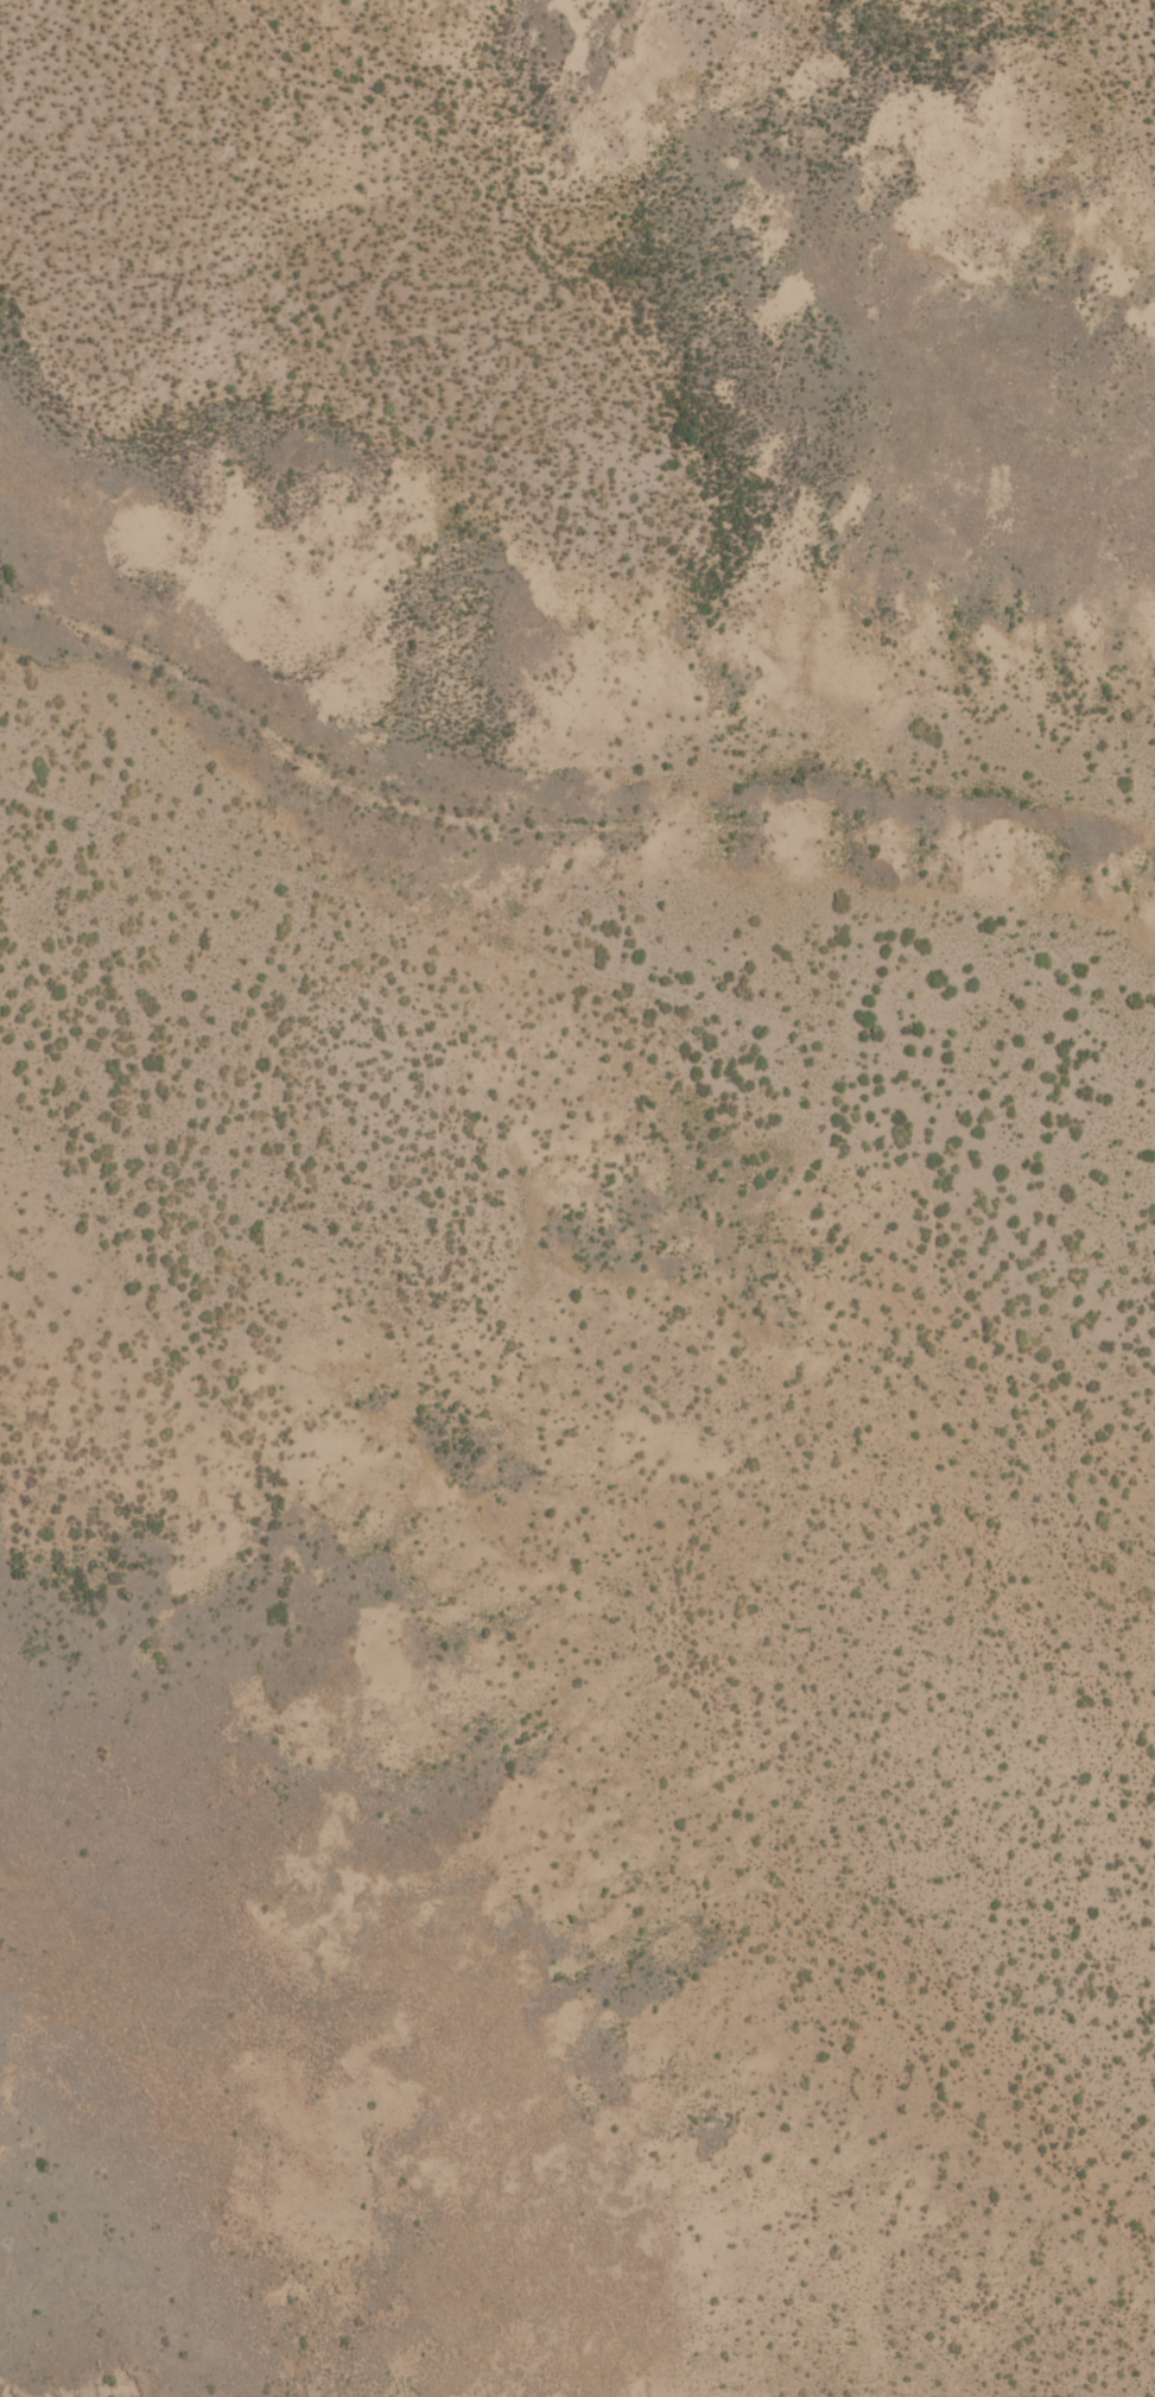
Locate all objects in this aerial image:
road: (294, 538)
road: (577, 963)

